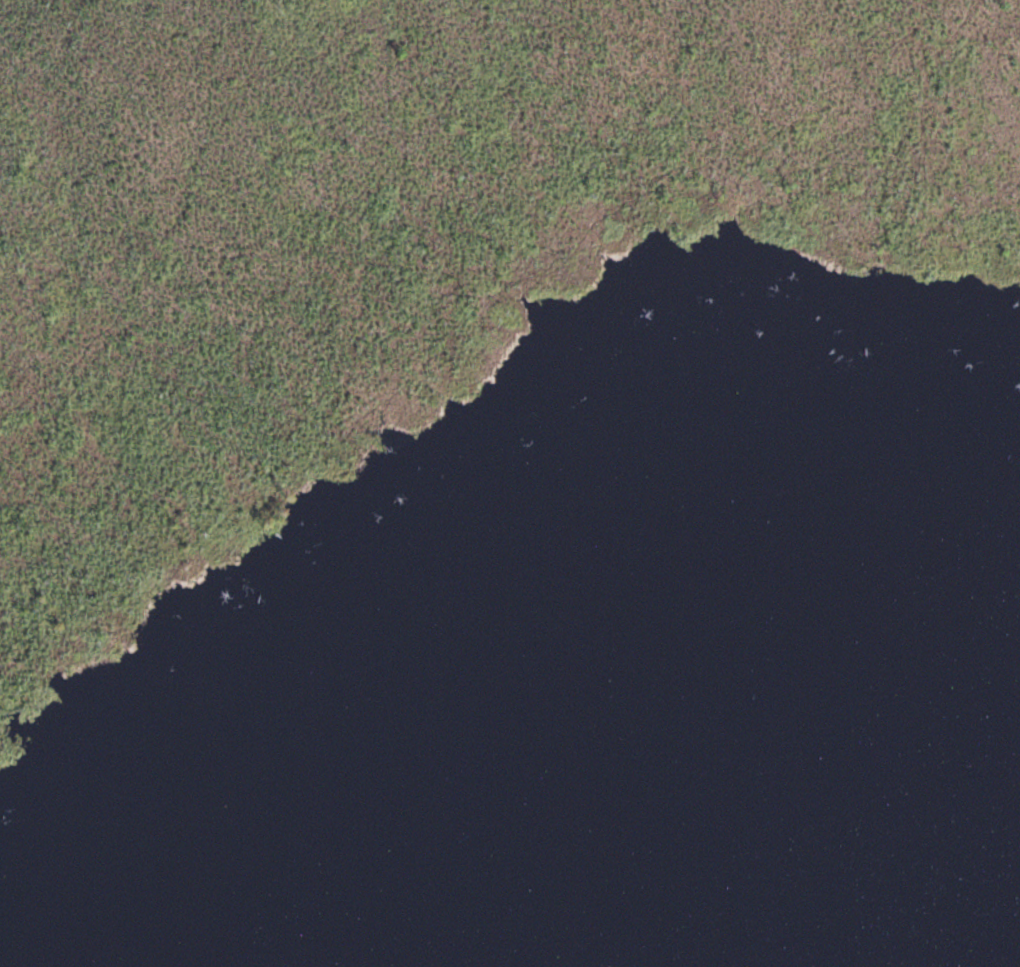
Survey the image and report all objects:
river: (813, 928)

